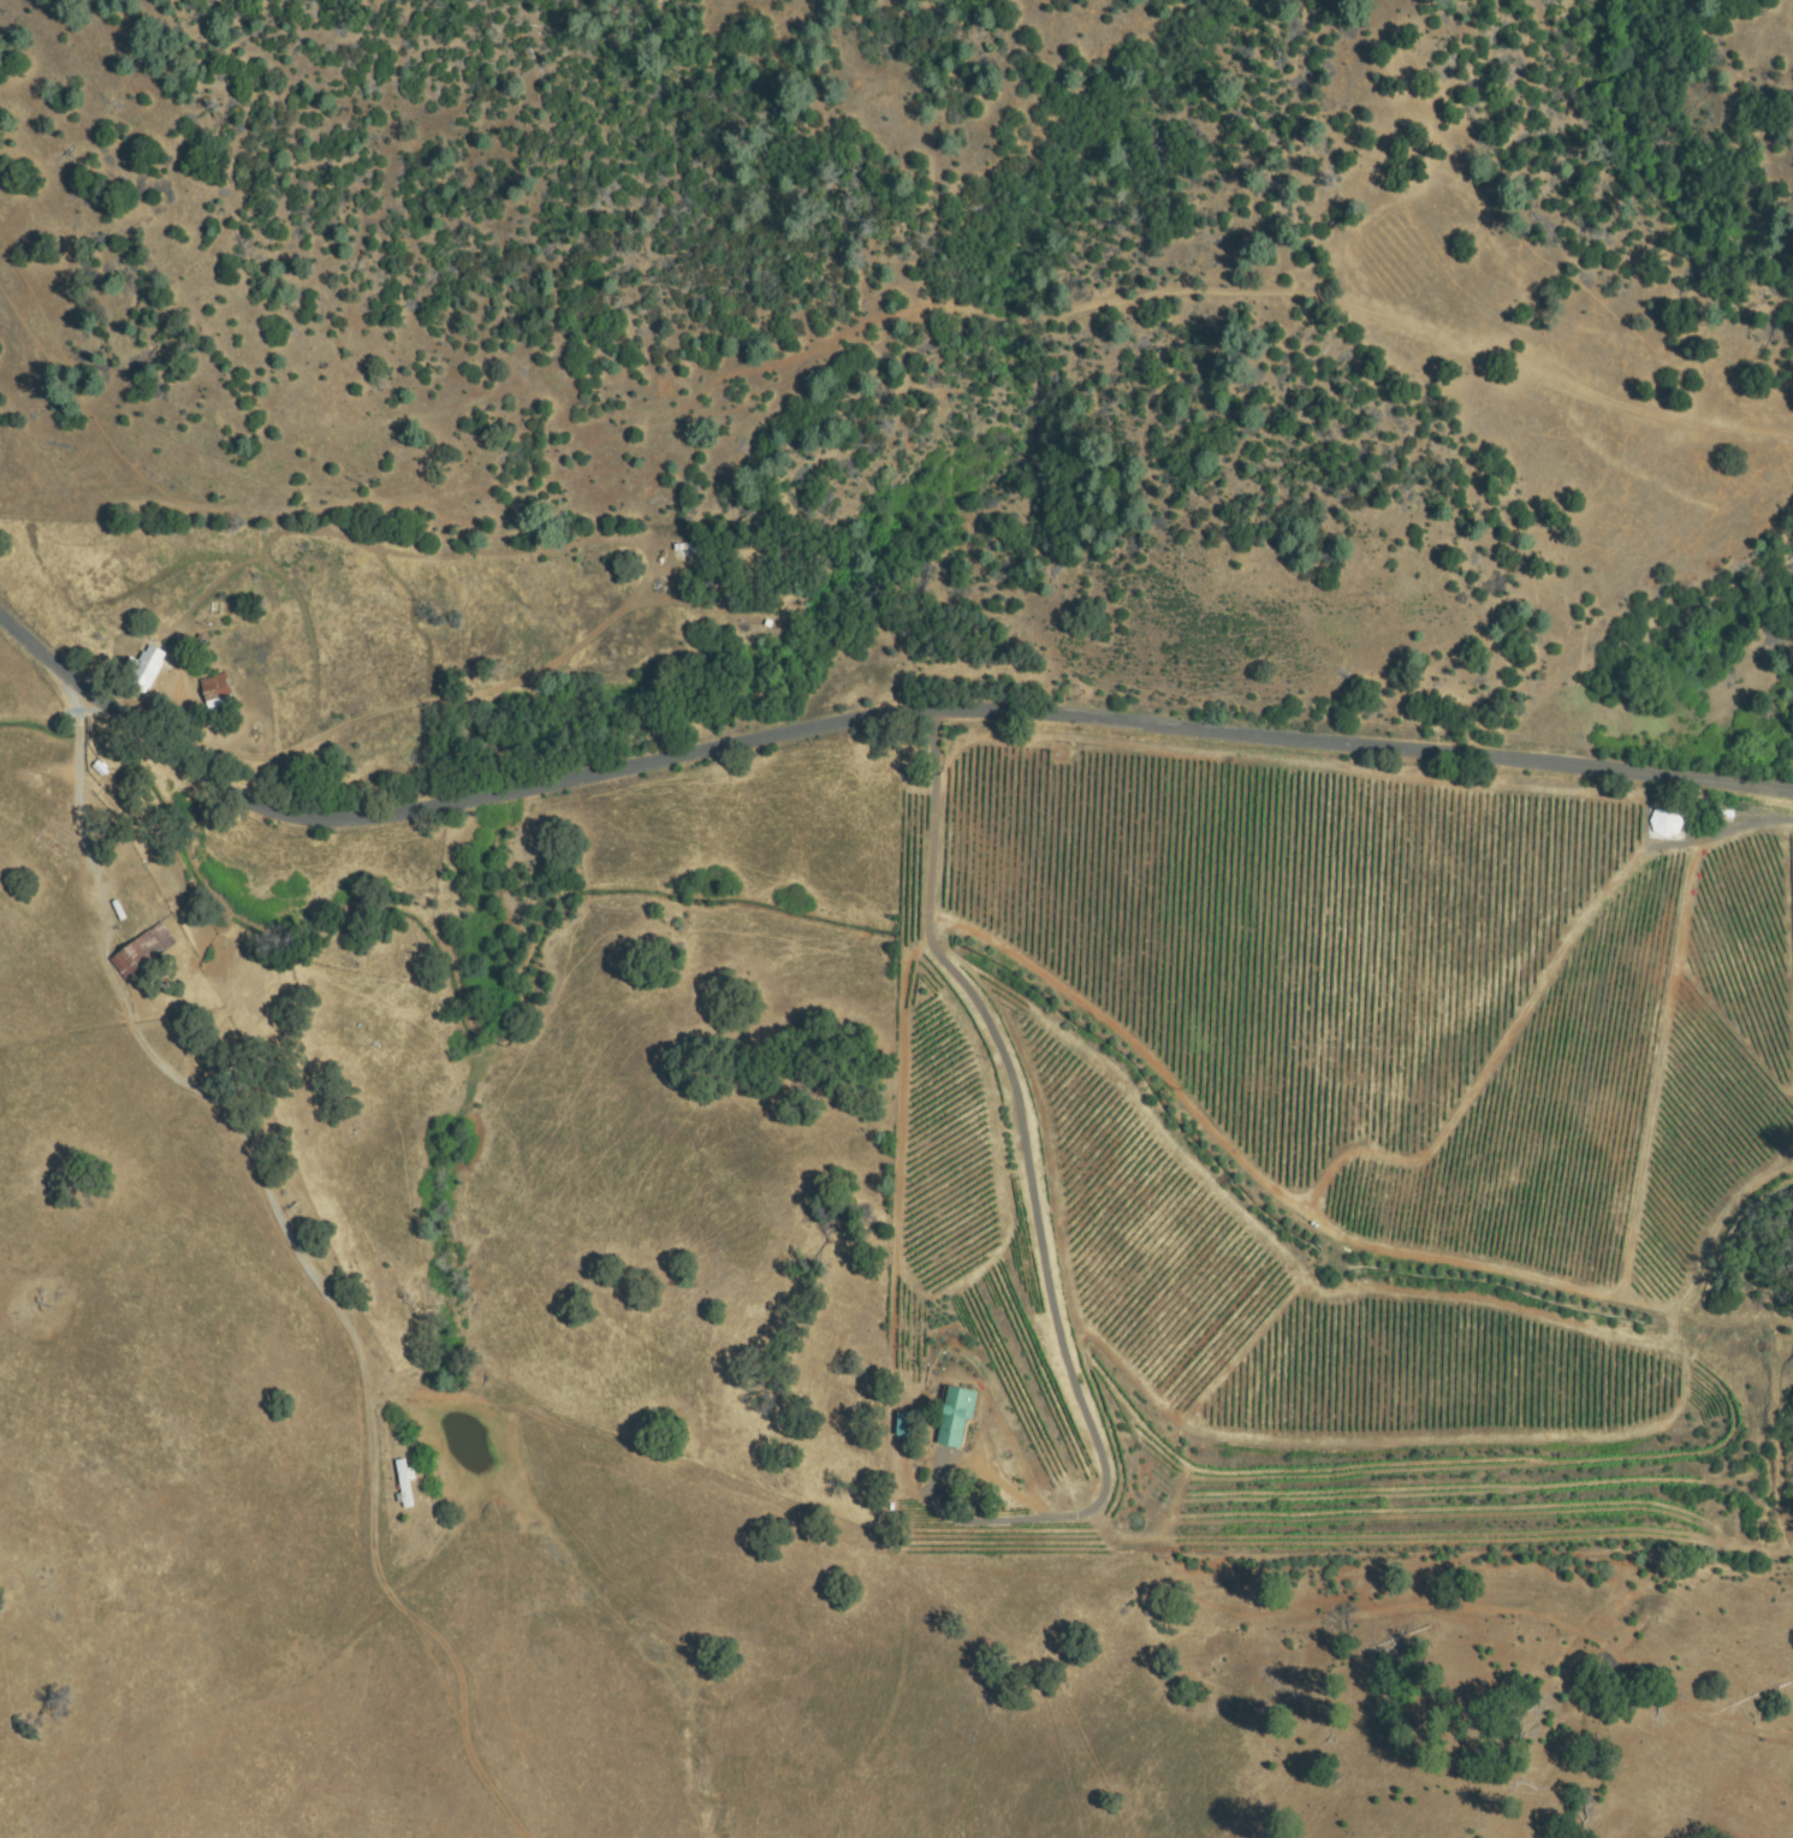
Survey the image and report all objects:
building: (682, 550)
building: (144, 670)
building: (218, 693)
road: (859, 719)
building: (107, 804)
building: (54, 831)
building: (44, 846)
building: (138, 954)
road: (237, 1111)
building: (955, 1416)
building: (904, 1429)
building: (405, 1486)

